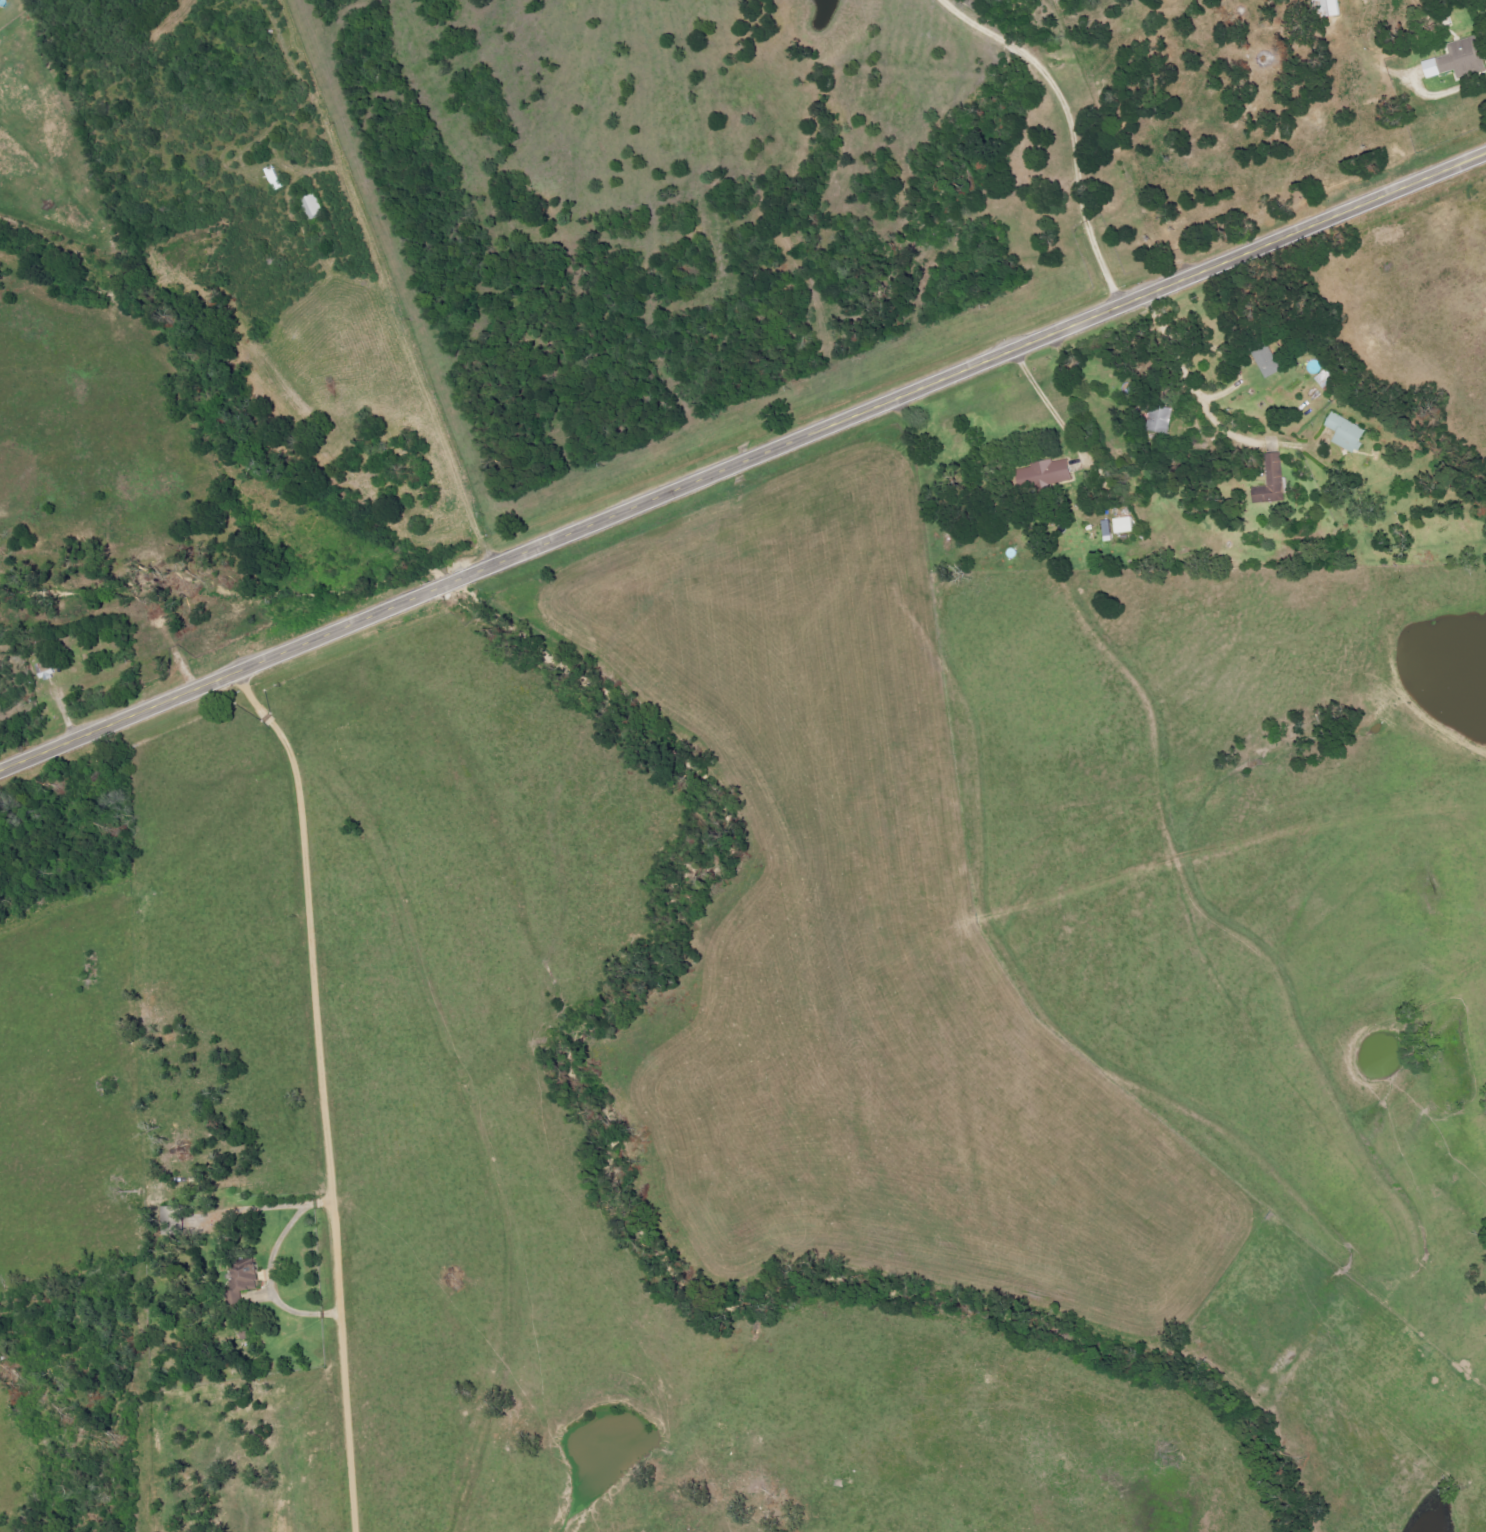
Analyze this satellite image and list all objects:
building: (1327, 8)
building: (1455, 59)
road: (1073, 126)
building: (314, 207)
building: (1267, 361)
building: (1325, 379)
road: (425, 384)
building: (1160, 420)
road: (1067, 431)
building: (1345, 433)
road: (743, 466)
building: (1043, 474)
building: (1272, 482)
building: (1123, 526)
road: (325, 1093)
building: (242, 1284)
road: (292, 1315)

